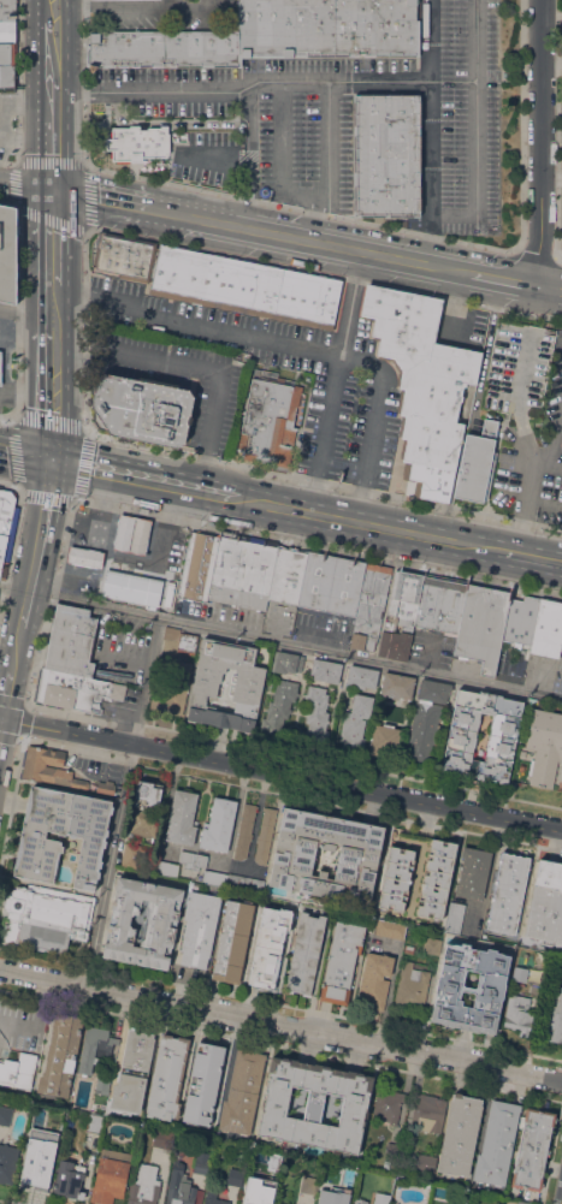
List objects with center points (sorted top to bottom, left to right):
road: (108, 8)
road: (189, 8)
building: (8, 10)
road: (52, 10)
parking lot: (164, 14)
building: (327, 29)
building: (6, 31)
building: (201, 47)
building: (124, 48)
building: (7, 54)
road: (52, 67)
building: (7, 77)
road: (17, 81)
road: (279, 81)
road: (70, 91)
road: (477, 106)
road: (431, 115)
parking lot: (457, 117)
parking lot: (262, 120)
road: (183, 121)
road: (520, 125)
road: (282, 134)
road: (329, 141)
building: (136, 142)
road: (540, 142)
road: (53, 153)
road: (252, 155)
building: (386, 155)
road: (7, 160)
road: (252, 177)
road: (26, 186)
traffic signals: (54, 191)
road: (218, 192)
road: (100, 200)
road: (29, 208)
road: (454, 213)
road: (309, 218)
road: (285, 235)
road: (53, 243)
road: (427, 247)
road: (224, 251)
building: (8, 253)
road: (533, 254)
road: (557, 259)
road: (448, 267)
building: (184, 272)
road: (501, 278)
road: (544, 286)
road: (560, 290)
building: (300, 297)
road: (18, 302)
road: (26, 316)
road: (291, 343)
building: (0, 367)
gas station: (0, 367)
road: (195, 367)
building: (517, 368)
parking lot: (181, 376)
road: (53, 378)
road: (335, 380)
parking lot: (354, 381)
building: (421, 384)
building: (141, 407)
road: (560, 410)
road: (7, 416)
building: (268, 419)
road: (23, 420)
road: (25, 456)
traffic signals: (53, 462)
building: (474, 463)
road: (532, 468)
road: (126, 475)
road: (324, 481)
road: (11, 484)
building: (0, 487)
road: (219, 493)
building: (7, 512)
road: (368, 522)
building: (122, 532)
building: (138, 535)
road: (37, 542)
road: (11, 545)
road: (318, 546)
building: (2, 548)
road: (511, 550)
road: (544, 553)
building: (84, 557)
road: (544, 557)
building: (195, 567)
building: (241, 567)
building: (0, 571)
building: (284, 576)
building: (313, 581)
building: (373, 583)
building: (343, 587)
road: (14, 588)
building: (128, 589)
gas station: (128, 589)
building: (400, 597)
building: (235, 599)
road: (49, 601)
building: (437, 605)
building: (517, 618)
building: (366, 619)
building: (394, 625)
building: (478, 628)
building: (545, 629)
building: (171, 633)
building: (561, 639)
building: (70, 640)
building: (354, 642)
road: (295, 645)
building: (391, 646)
building: (168, 647)
parking lot: (119, 650)
building: (282, 662)
building: (297, 663)
parking lot: (509, 663)
building: (325, 670)
road: (11, 676)
building: (360, 677)
road: (147, 681)
building: (78, 683)
building: (223, 686)
building: (394, 686)
building: (116, 692)
building: (172, 692)
building: (431, 693)
building: (54, 695)
building: (277, 708)
building: (314, 714)
road: (22, 716)
traffic signals: (2, 718)
building: (355, 724)
building: (421, 737)
building: (481, 737)
building: (383, 742)
building: (543, 745)
building: (522, 765)
building: (49, 767)
road: (280, 773)
building: (105, 787)
building: (144, 808)
building: (182, 818)
building: (218, 825)
building: (244, 831)
building: (61, 834)
building: (265, 835)
building: (131, 854)
building: (187, 859)
building: (355, 860)
building: (199, 861)
road: (108, 864)
building: (473, 872)
building: (395, 877)
building: (214, 878)
building: (436, 878)
building: (244, 883)
building: (508, 894)
building: (545, 903)
building: (455, 918)
building: (48, 919)
building: (160, 920)
building: (199, 927)
building: (390, 929)
building: (232, 941)
building: (432, 945)
building: (268, 947)
building: (408, 949)
building: (304, 954)
building: (341, 962)
building: (374, 979)
building: (410, 987)
building: (452, 987)
building: (517, 1014)
building: (554, 1016)
road: (280, 1022)
building: (94, 1046)
building: (60, 1056)
building: (18, 1070)
building: (131, 1074)
building: (166, 1078)
building: (203, 1083)
building: (102, 1084)
building: (242, 1092)
building: (100, 1105)
building: (313, 1105)
building: (389, 1107)
building: (428, 1111)
building: (5, 1115)
building: (94, 1123)
building: (459, 1134)
building: (51, 1139)
building: (161, 1139)
building: (497, 1143)
building: (532, 1149)
building: (391, 1153)
building: (7, 1162)
building: (201, 1162)
building: (425, 1166)
building: (31, 1169)
building: (110, 1176)
building: (235, 1176)
building: (69, 1179)
building: (271, 1184)
building: (143, 1185)
building: (309, 1185)
building: (345, 1192)
building: (183, 1193)
building: (323, 1198)
building: (381, 1198)
building: (215, 1200)
building: (253, 1200)
building: (360, 1200)
road: (561, 1202)
building: (457, 1203)
building: (522, 1203)

